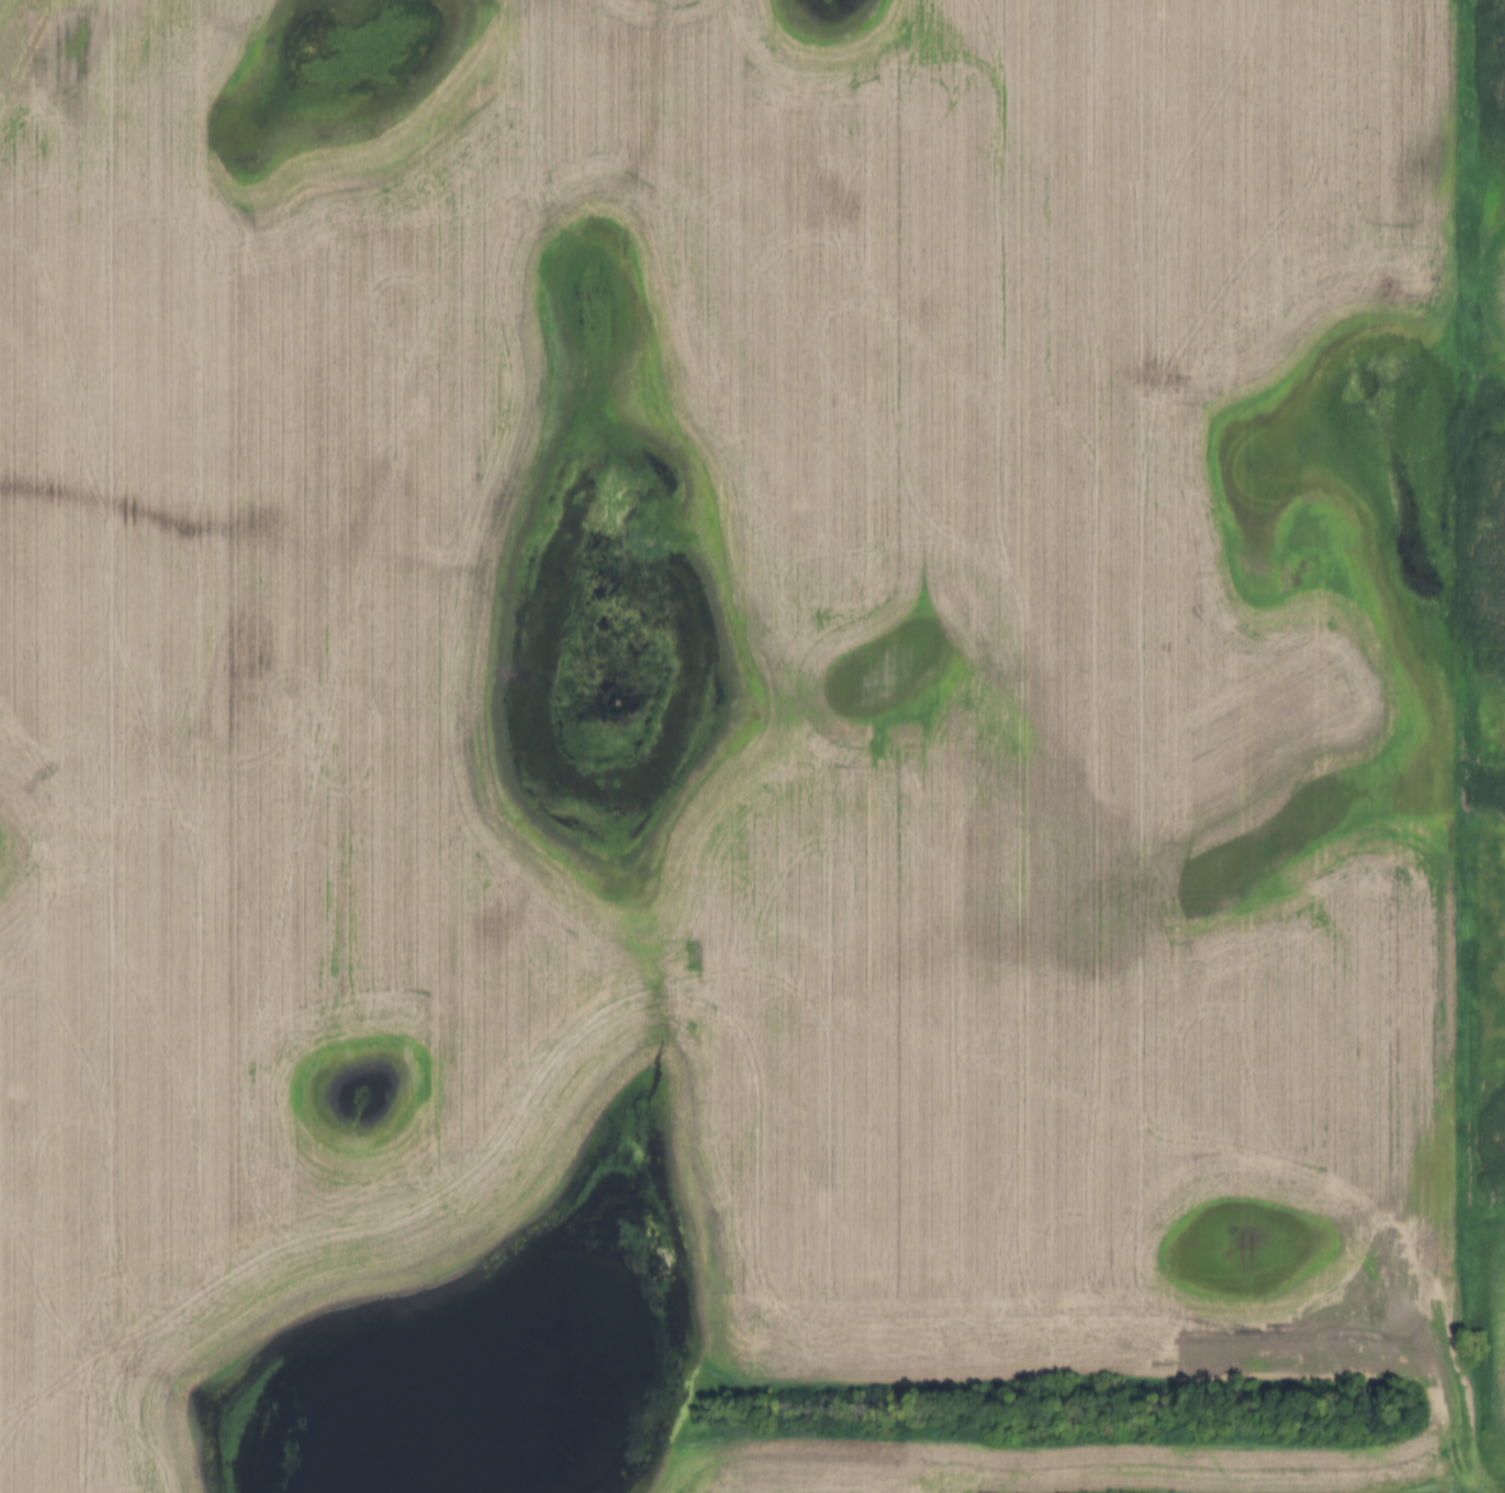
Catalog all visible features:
road: (1469, 746)

